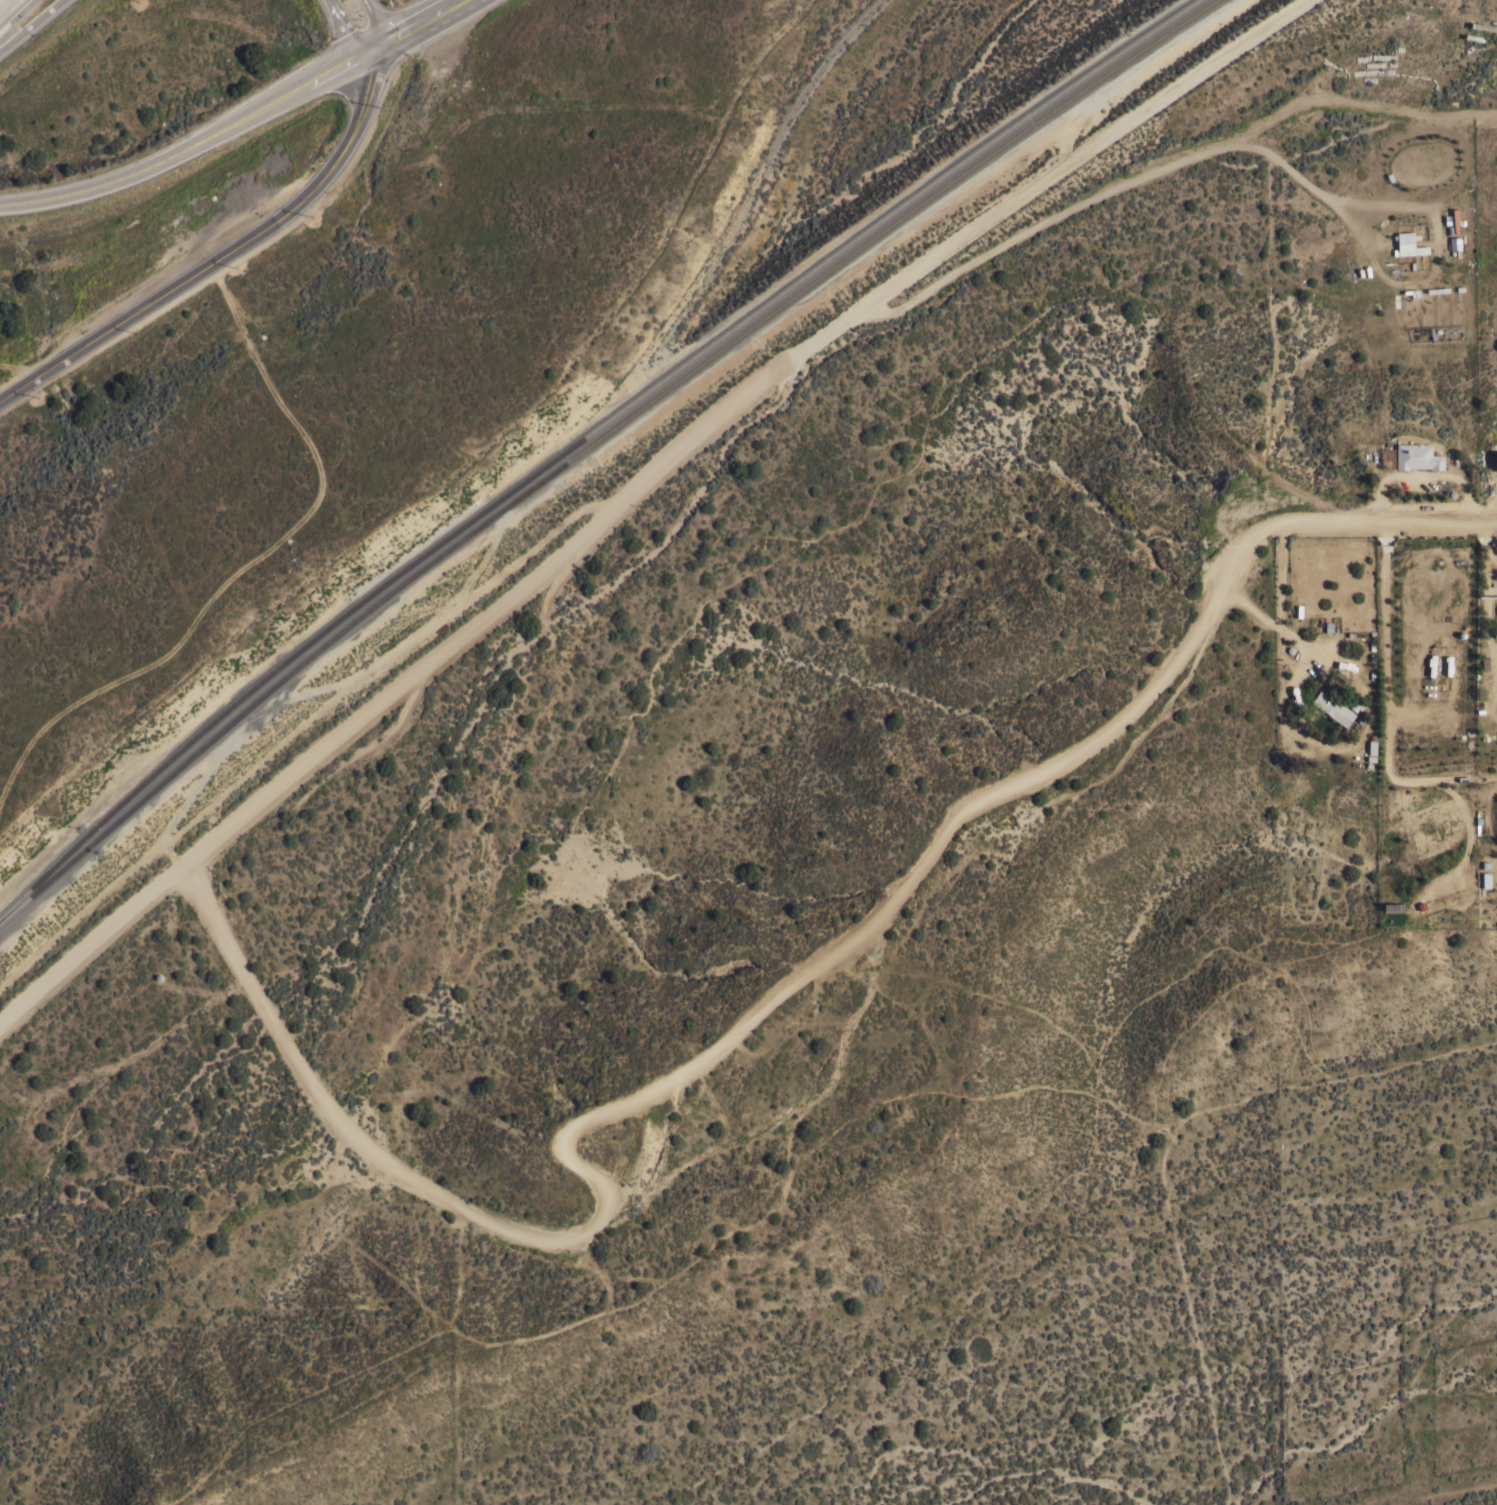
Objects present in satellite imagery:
road: (7, 6)
road: (371, 17)
road: (347, 22)
road: (30, 23)
road: (225, 117)
building: (1408, 245)
road: (230, 252)
railway: (581, 437)
railway: (592, 443)
building: (1417, 456)
building: (1495, 460)
road: (646, 498)
road: (1278, 609)
road: (1295, 641)
building: (1332, 707)
building: (1442, 898)
road: (794, 987)

